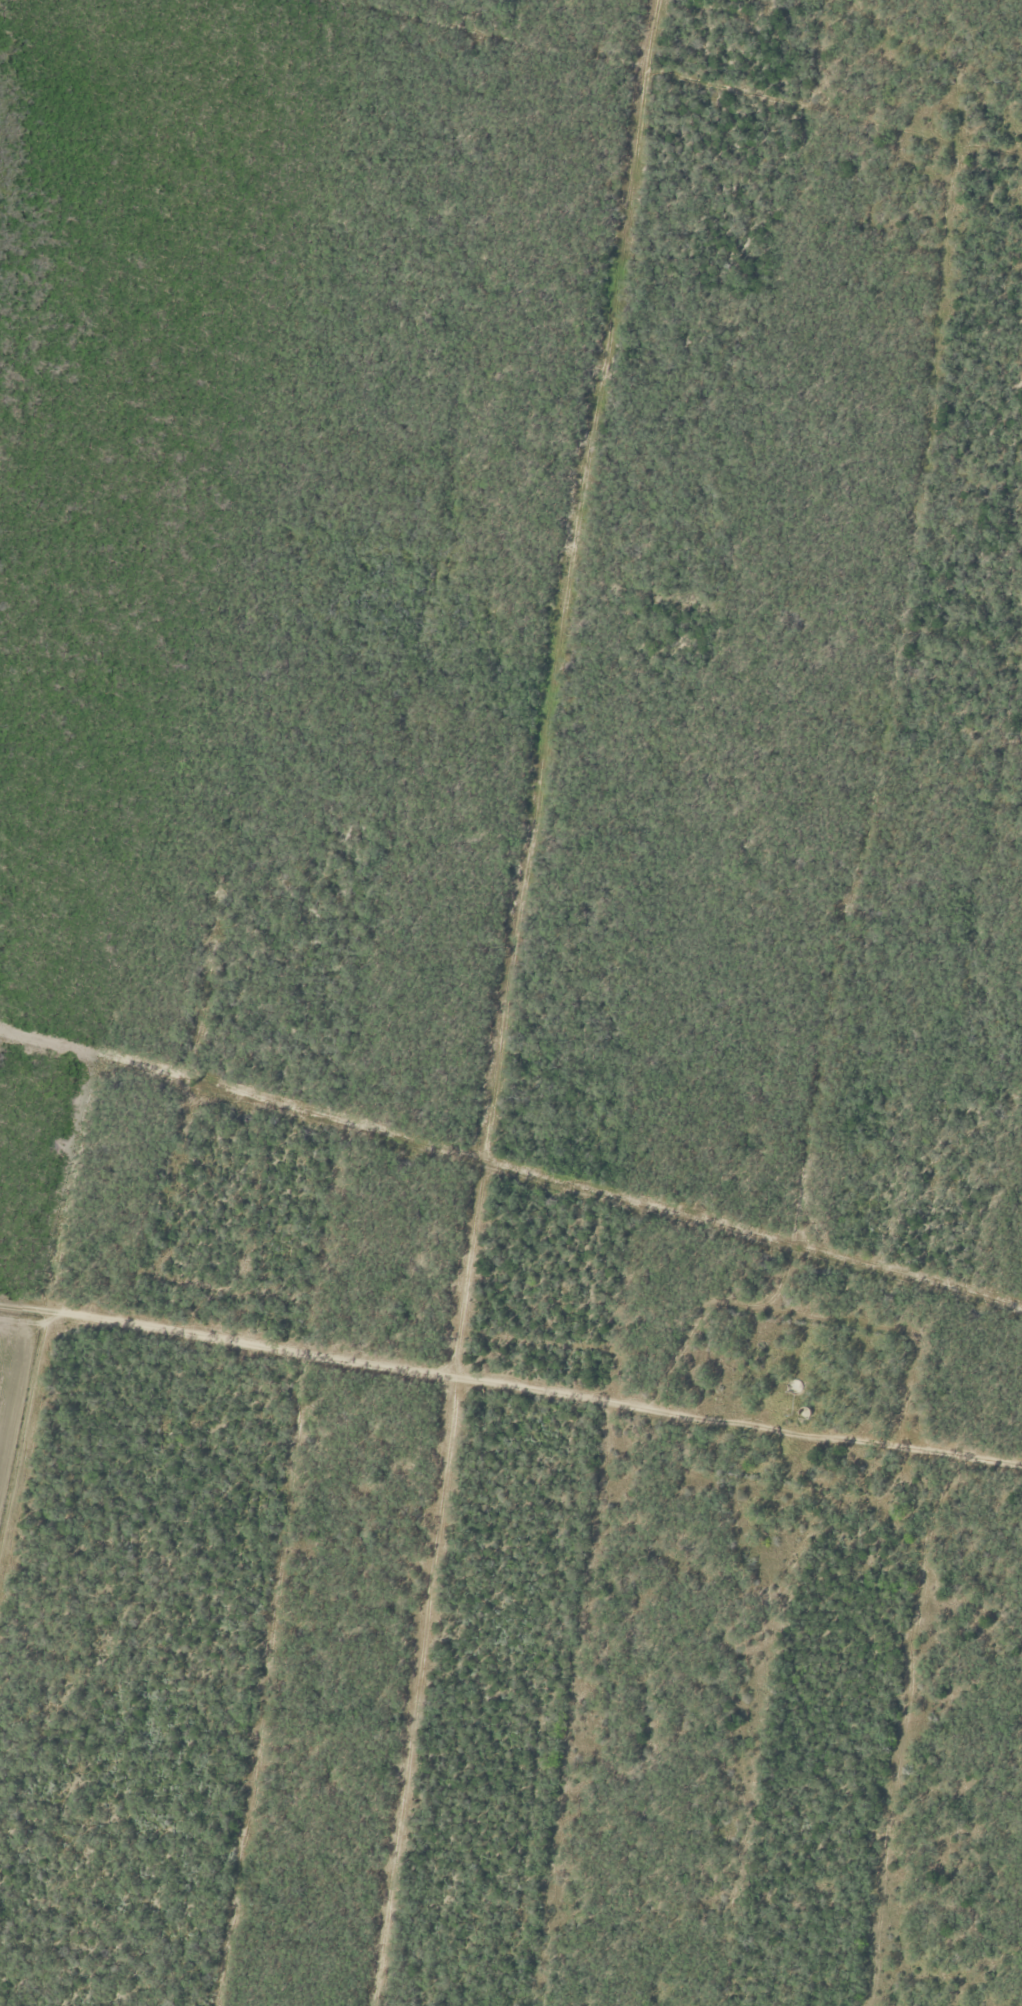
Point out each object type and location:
road: (509, 1396)

